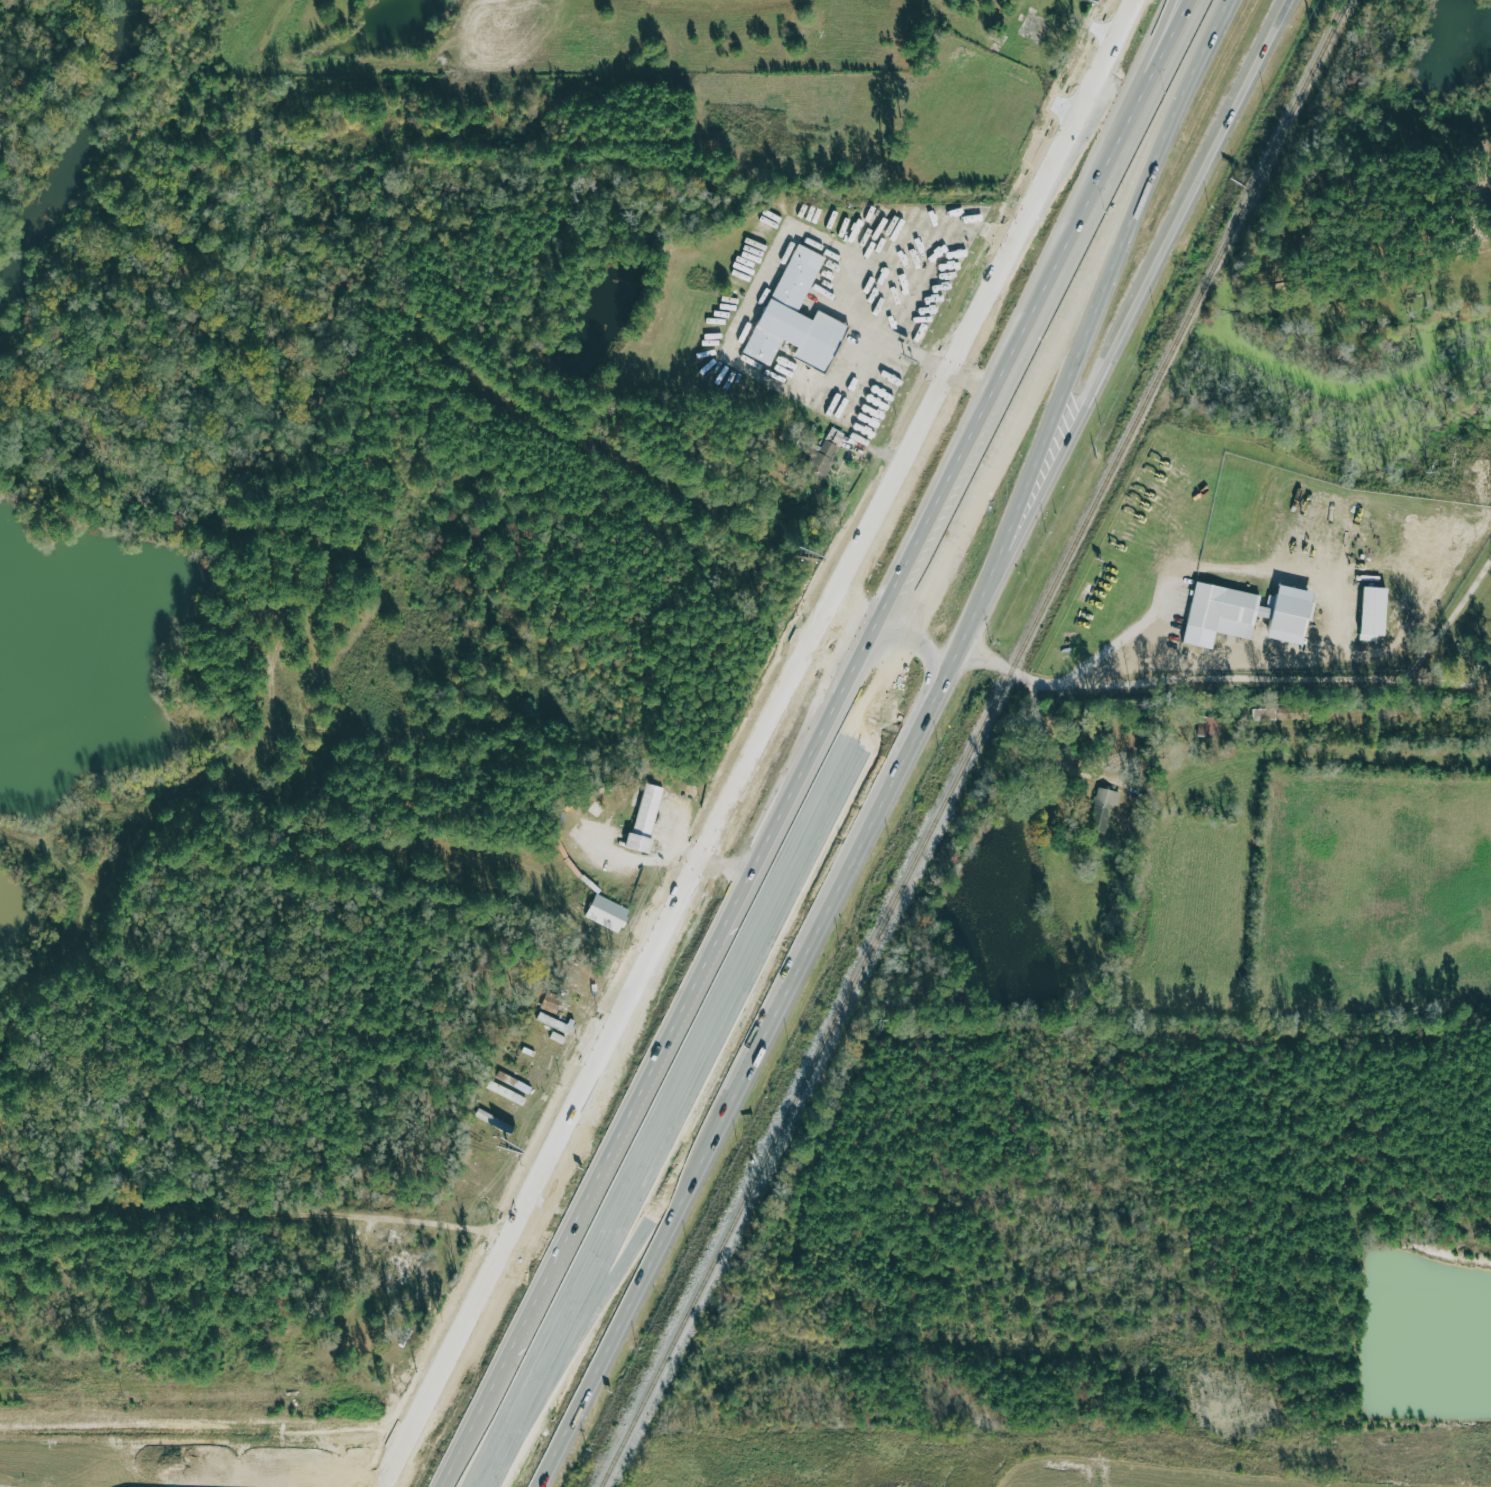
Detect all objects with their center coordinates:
road: (1168, 7)
road: (1170, 7)
road: (1092, 106)
road: (1103, 112)
road: (874, 265)
river: (240, 300)
building: (799, 316)
road: (1090, 321)
road: (1131, 325)
building: (823, 459)
building: (1376, 613)
building: (1225, 614)
building: (1293, 614)
road: (993, 661)
road: (1268, 677)
road: (778, 723)
railway: (975, 743)
road: (1053, 748)
building: (1106, 808)
building: (648, 819)
building: (610, 913)
road: (748, 1065)
building: (508, 1092)
road: (356, 1215)
road: (454, 1361)

